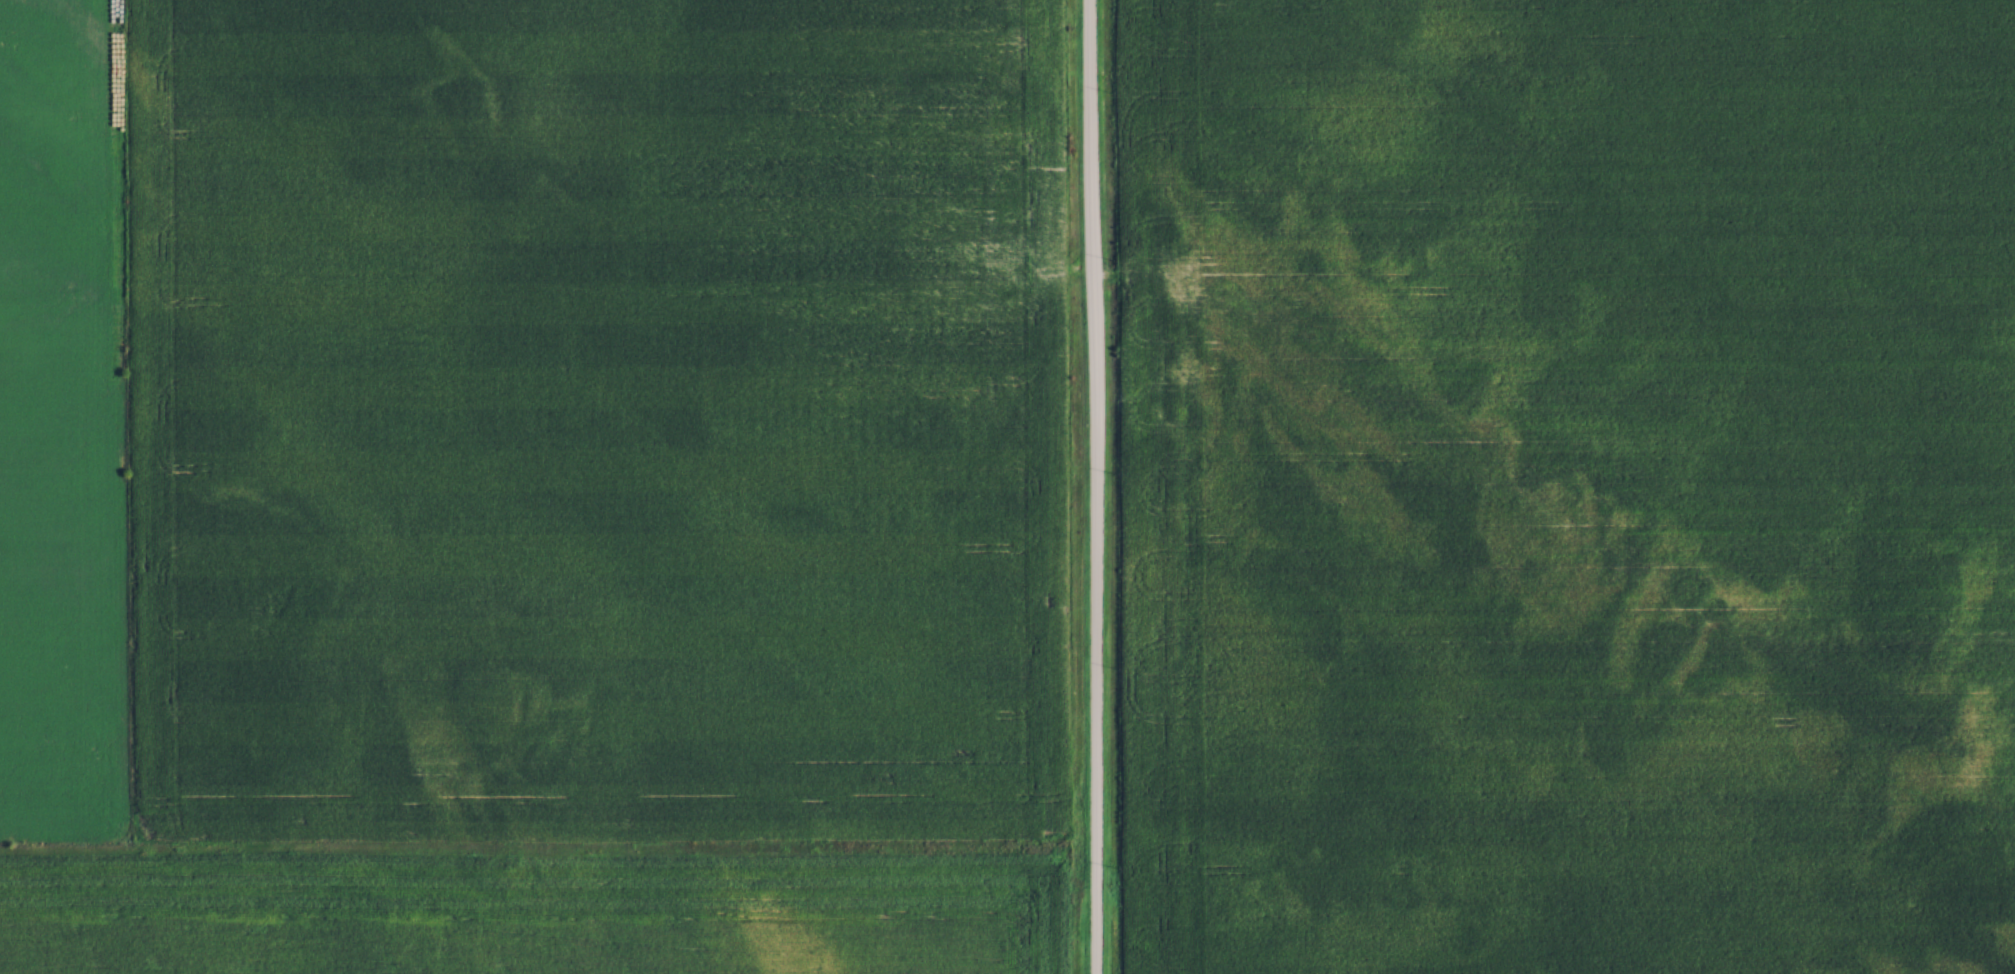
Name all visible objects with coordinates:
road: (1094, 486)

